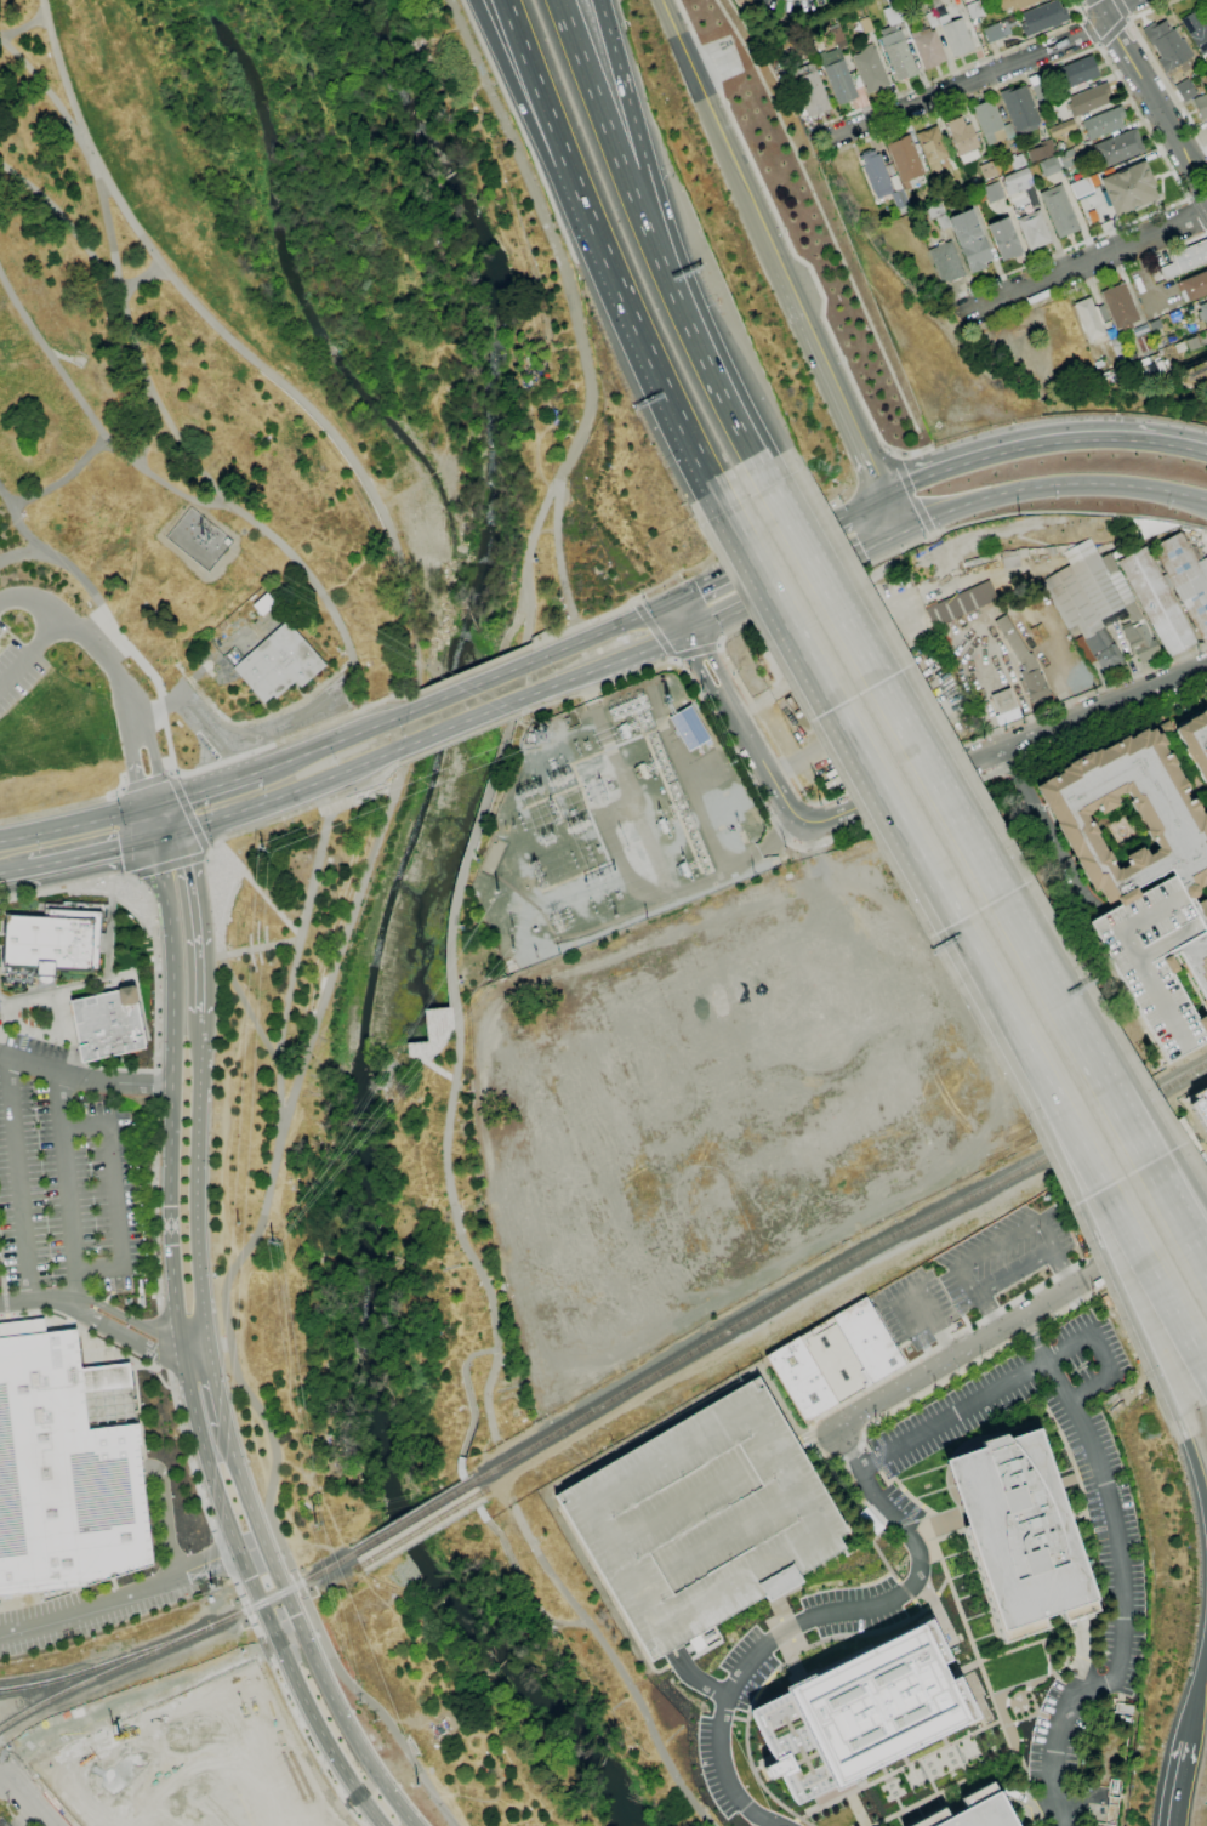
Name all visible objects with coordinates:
building: (951, 0)
road: (1088, 1)
building: (742, 4)
building: (934, 4)
building: (1013, 4)
road: (1080, 6)
road: (1117, 6)
building: (973, 8)
road: (1120, 8)
building: (892, 15)
building: (1041, 17)
building: (929, 18)
road: (1127, 18)
road: (1082, 19)
building: (864, 24)
road: (25, 28)
road: (1111, 30)
building: (992, 33)
road: (1091, 33)
building: (953, 34)
building: (1196, 34)
building: (836, 35)
building: (1165, 44)
road: (1098, 45)
building: (926, 47)
building: (895, 52)
road: (1155, 63)
road: (1047, 67)
road: (961, 68)
building: (869, 69)
building: (1077, 70)
road: (1138, 74)
building: (836, 75)
building: (854, 79)
road: (966, 80)
road: (621, 81)
building: (808, 89)
building: (1037, 89)
building: (1184, 90)
road: (543, 97)
building: (1087, 98)
road: (520, 102)
building: (1200, 104)
road: (599, 107)
building: (1018, 109)
building: (989, 121)
building: (1103, 123)
building: (1065, 126)
building: (961, 135)
building: (1058, 146)
building: (930, 147)
building: (1117, 148)
road: (730, 149)
building: (1040, 152)
building: (1066, 158)
building: (904, 159)
building: (1015, 161)
road: (1196, 161)
building: (1048, 166)
building: (987, 170)
building: (873, 172)
road: (1190, 178)
building: (1014, 181)
building: (893, 182)
building: (913, 183)
building: (1128, 187)
building: (1080, 188)
road: (642, 189)
building: (991, 192)
road: (1199, 194)
building: (898, 198)
road: (1189, 198)
building: (1058, 211)
road: (1197, 214)
building: (936, 215)
road: (67, 221)
building: (1032, 229)
road: (548, 232)
building: (1003, 238)
building: (968, 240)
road: (792, 248)
road: (1066, 249)
building: (1186, 260)
building: (944, 261)
road: (1086, 261)
road: (143, 277)
road: (1184, 277)
road: (1148, 279)
road: (1093, 281)
building: (1194, 286)
building: (1121, 307)
building: (1202, 312)
building: (1089, 319)
building: (1155, 325)
building: (1141, 330)
road: (695, 341)
road: (643, 343)
building: (1144, 343)
building: (1192, 343)
building: (1180, 347)
park: (286, 385)
road: (158, 398)
road: (839, 398)
road: (90, 416)
road: (143, 420)
road: (1041, 444)
road: (896, 456)
road: (763, 474)
road: (63, 480)
road: (1052, 487)
road: (911, 494)
traffic signals: (883, 496)
road: (719, 499)
road: (865, 506)
road: (893, 514)
traffic signals: (903, 533)
road: (933, 533)
building: (198, 539)
power substation: (199, 540)
road: (17, 553)
road: (40, 553)
road: (560, 557)
road: (759, 558)
building: (1108, 563)
road: (871, 564)
road: (808, 578)
building: (1120, 587)
building: (1081, 591)
building: (1171, 592)
traffic signals: (672, 602)
road: (637, 603)
building: (960, 603)
road: (682, 618)
road: (582, 625)
road: (702, 628)
road: (655, 631)
road: (599, 632)
traffic signals: (691, 635)
road: (40, 637)
building: (1097, 641)
building: (1139, 642)
building: (1015, 644)
road: (718, 645)
road: (696, 652)
road: (104, 656)
building: (1106, 656)
road: (674, 658)
road: (677, 659)
building: (284, 664)
river: (462, 664)
road: (605, 666)
parking lot: (16, 667)
road: (468, 672)
road: (194, 675)
road: (337, 679)
road: (820, 681)
building: (1032, 683)
road: (596, 687)
road: (466, 688)
building: (1003, 706)
road: (257, 718)
parking lot: (261, 721)
road: (460, 723)
building: (688, 728)
road: (1004, 728)
building: (1166, 728)
road: (744, 729)
road: (233, 734)
road: (457, 738)
power tower: (546, 738)
building: (1195, 741)
road: (131, 743)
road: (331, 743)
road: (404, 743)
road: (1006, 747)
road: (155, 761)
road: (201, 767)
road: (171, 772)
road: (144, 780)
road: (119, 781)
road: (136, 784)
road: (213, 787)
road: (291, 792)
traffic signals: (169, 802)
road: (59, 804)
road: (155, 804)
traffic signals: (143, 808)
road: (303, 808)
road: (187, 810)
road: (898, 813)
road: (173, 817)
building: (1173, 818)
road: (822, 820)
road: (148, 823)
road: (72, 824)
power substation: (613, 824)
traffic signals: (180, 831)
road: (166, 835)
road: (1047, 835)
traffic signals: (153, 838)
power tower: (264, 848)
road: (718, 848)
road: (91, 853)
road: (205, 854)
road: (166, 864)
road: (15, 870)
road: (127, 877)
road: (987, 878)
road: (213, 901)
fountain: (96, 904)
building: (1201, 911)
road: (199, 920)
road: (286, 921)
road: (109, 928)
road: (302, 934)
building: (49, 943)
road: (452, 956)
building: (1196, 960)
building: (1156, 961)
parking lot: (1156, 961)
road: (95, 984)
road: (1, 999)
road: (2, 1008)
road: (251, 1012)
road: (66, 1020)
building: (107, 1024)
road: (156, 1024)
road: (39, 1036)
building: (432, 1036)
parking lot: (34, 1046)
road: (433, 1049)
road: (108, 1070)
road: (85, 1079)
building: (1202, 1094)
road: (278, 1102)
road: (1060, 1114)
road: (1158, 1126)
road: (1048, 1131)
road: (197, 1178)
road: (22, 1181)
parking lot: (67, 1187)
road: (69, 1188)
road: (115, 1196)
power tower: (241, 1224)
road: (1000, 1241)
power tower: (275, 1244)
road: (2, 1264)
railway: (837, 1267)
road: (1063, 1270)
parking lot: (973, 1273)
road: (1015, 1273)
road: (5, 1301)
road: (39, 1301)
road: (90, 1309)
road: (6, 1313)
road: (989, 1314)
park: (400, 1319)
road: (1021, 1321)
road: (142, 1324)
road: (90, 1337)
road: (126, 1339)
road: (944, 1339)
road: (165, 1341)
road: (218, 1343)
road: (195, 1352)
road: (182, 1353)
river: (369, 1354)
building: (835, 1359)
road: (1017, 1378)
road: (216, 1383)
road: (471, 1404)
road: (812, 1439)
road: (866, 1447)
road: (881, 1452)
road: (873, 1461)
building: (66, 1466)
road: (858, 1468)
road: (1195, 1469)
road: (1066, 1480)
road: (901, 1486)
parking lot: (1105, 1490)
road: (859, 1497)
road: (896, 1501)
railway: (414, 1517)
road: (906, 1518)
building: (704, 1519)
parking lot: (704, 1519)
road: (164, 1523)
power tower: (318, 1525)
road: (884, 1532)
building: (1020, 1535)
road: (1094, 1547)
road: (211, 1562)
road: (525, 1585)
power tower: (213, 1586)
road: (1122, 1587)
railway: (269, 1598)
road: (92, 1605)
road: (245, 1608)
river: (466, 1614)
parking lot: (66, 1616)
road: (799, 1622)
road: (303, 1633)
road: (970, 1639)
road: (615, 1663)
railway: (93, 1668)
road: (338, 1669)
road: (1065, 1678)
road: (1197, 1678)
railway: (90, 1679)
road: (1024, 1684)
building: (861, 1713)
road: (1185, 1734)
road: (733, 1774)
power tower: (416, 1785)
road: (1177, 1786)
road: (45, 1794)
road: (434, 1796)
road: (1026, 1797)
road: (27, 1801)
road: (916, 1804)
building: (974, 1810)
road: (16, 1818)
road: (772, 1822)
building: (1103, 1824)

